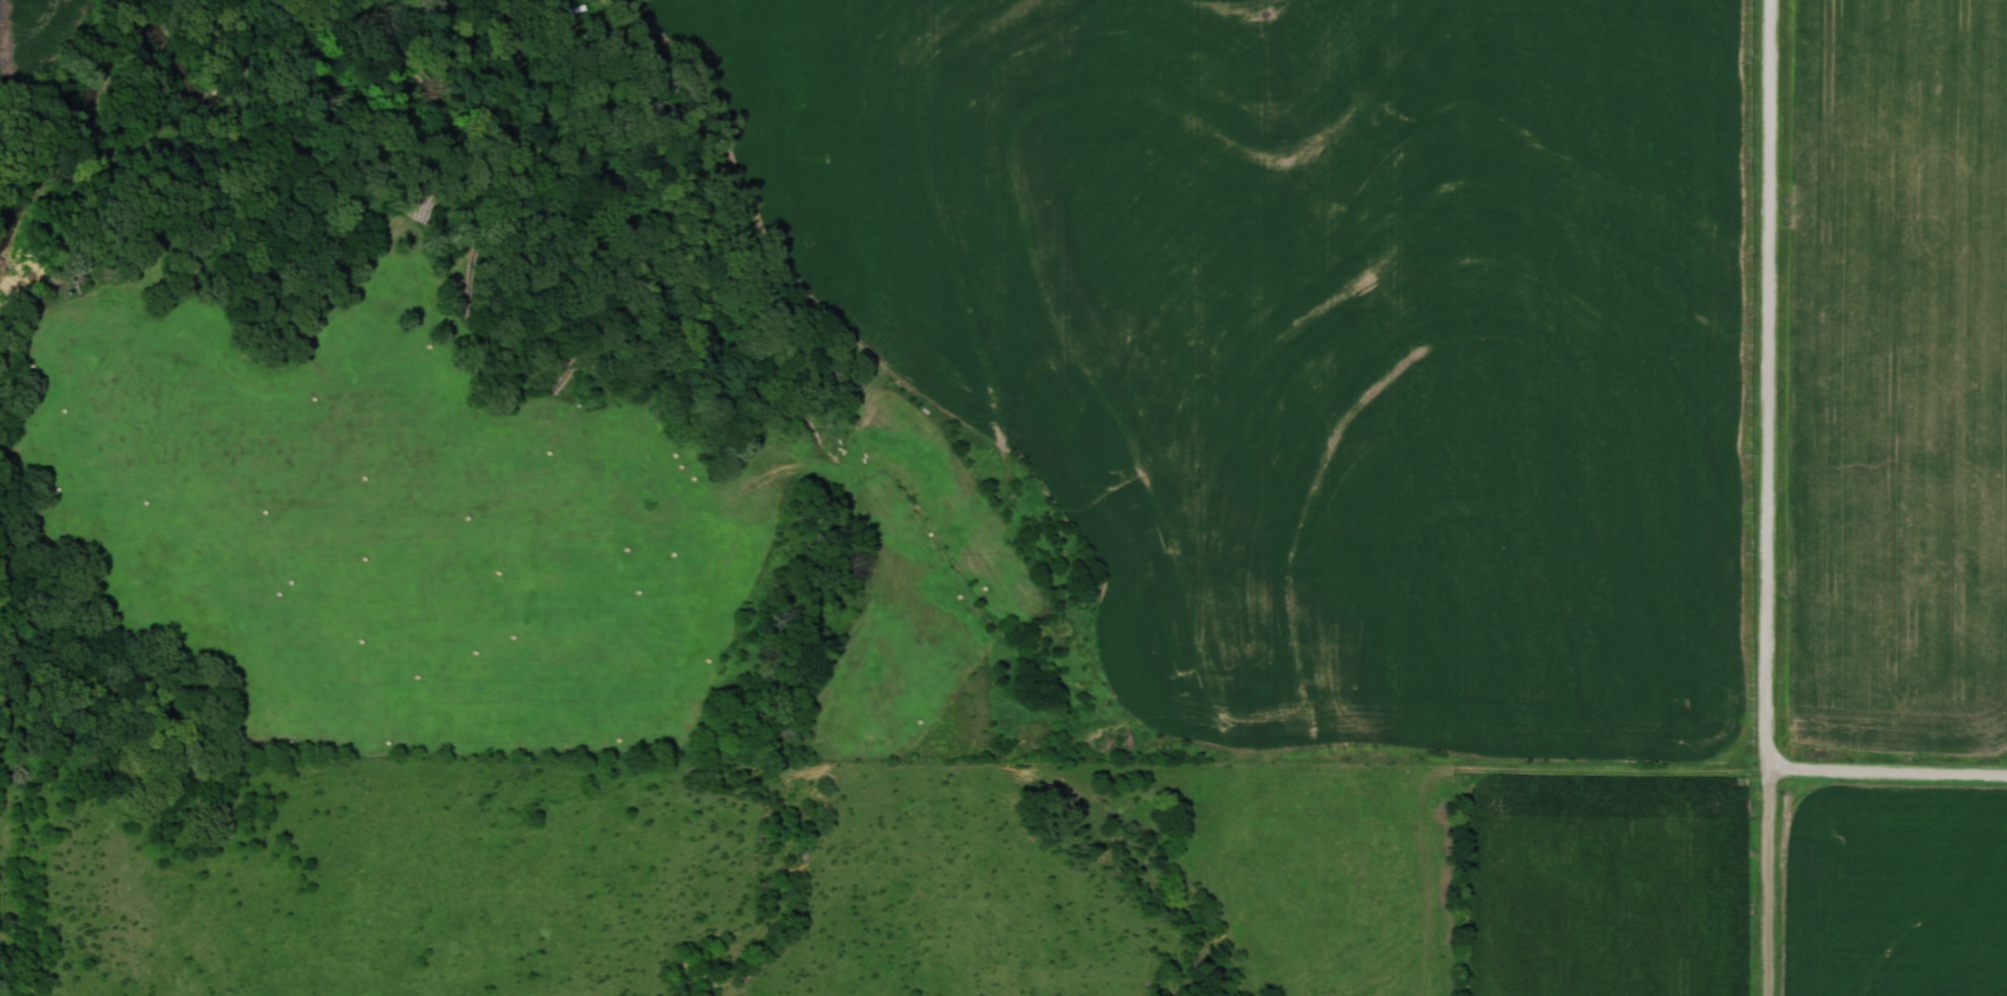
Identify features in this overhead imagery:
road: (1770, 498)
road: (1888, 776)

